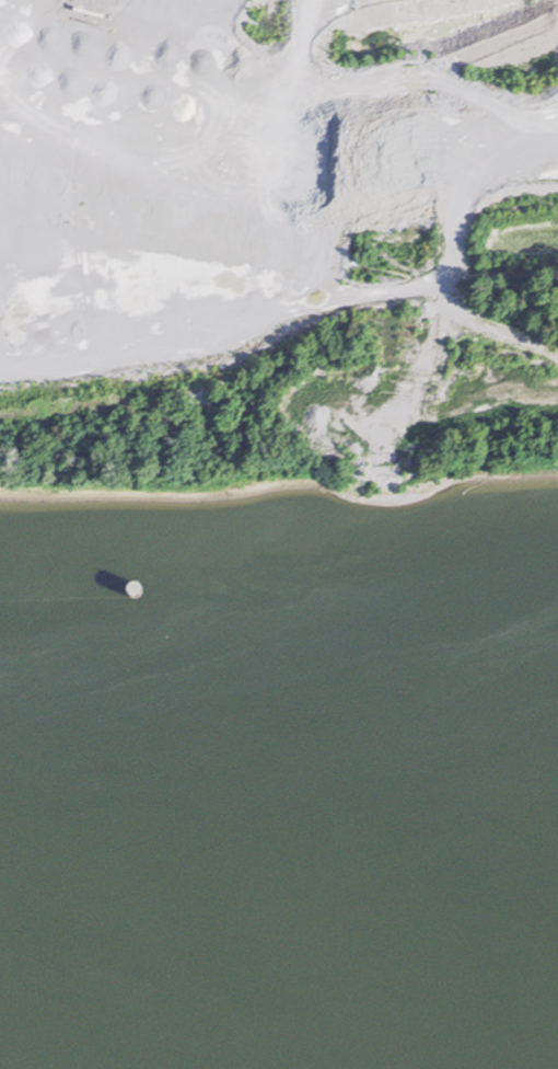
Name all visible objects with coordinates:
quarry: (278, 206)
road: (5, 208)
road: (453, 233)
road: (224, 335)
building: (354, 538)
building: (360, 568)

